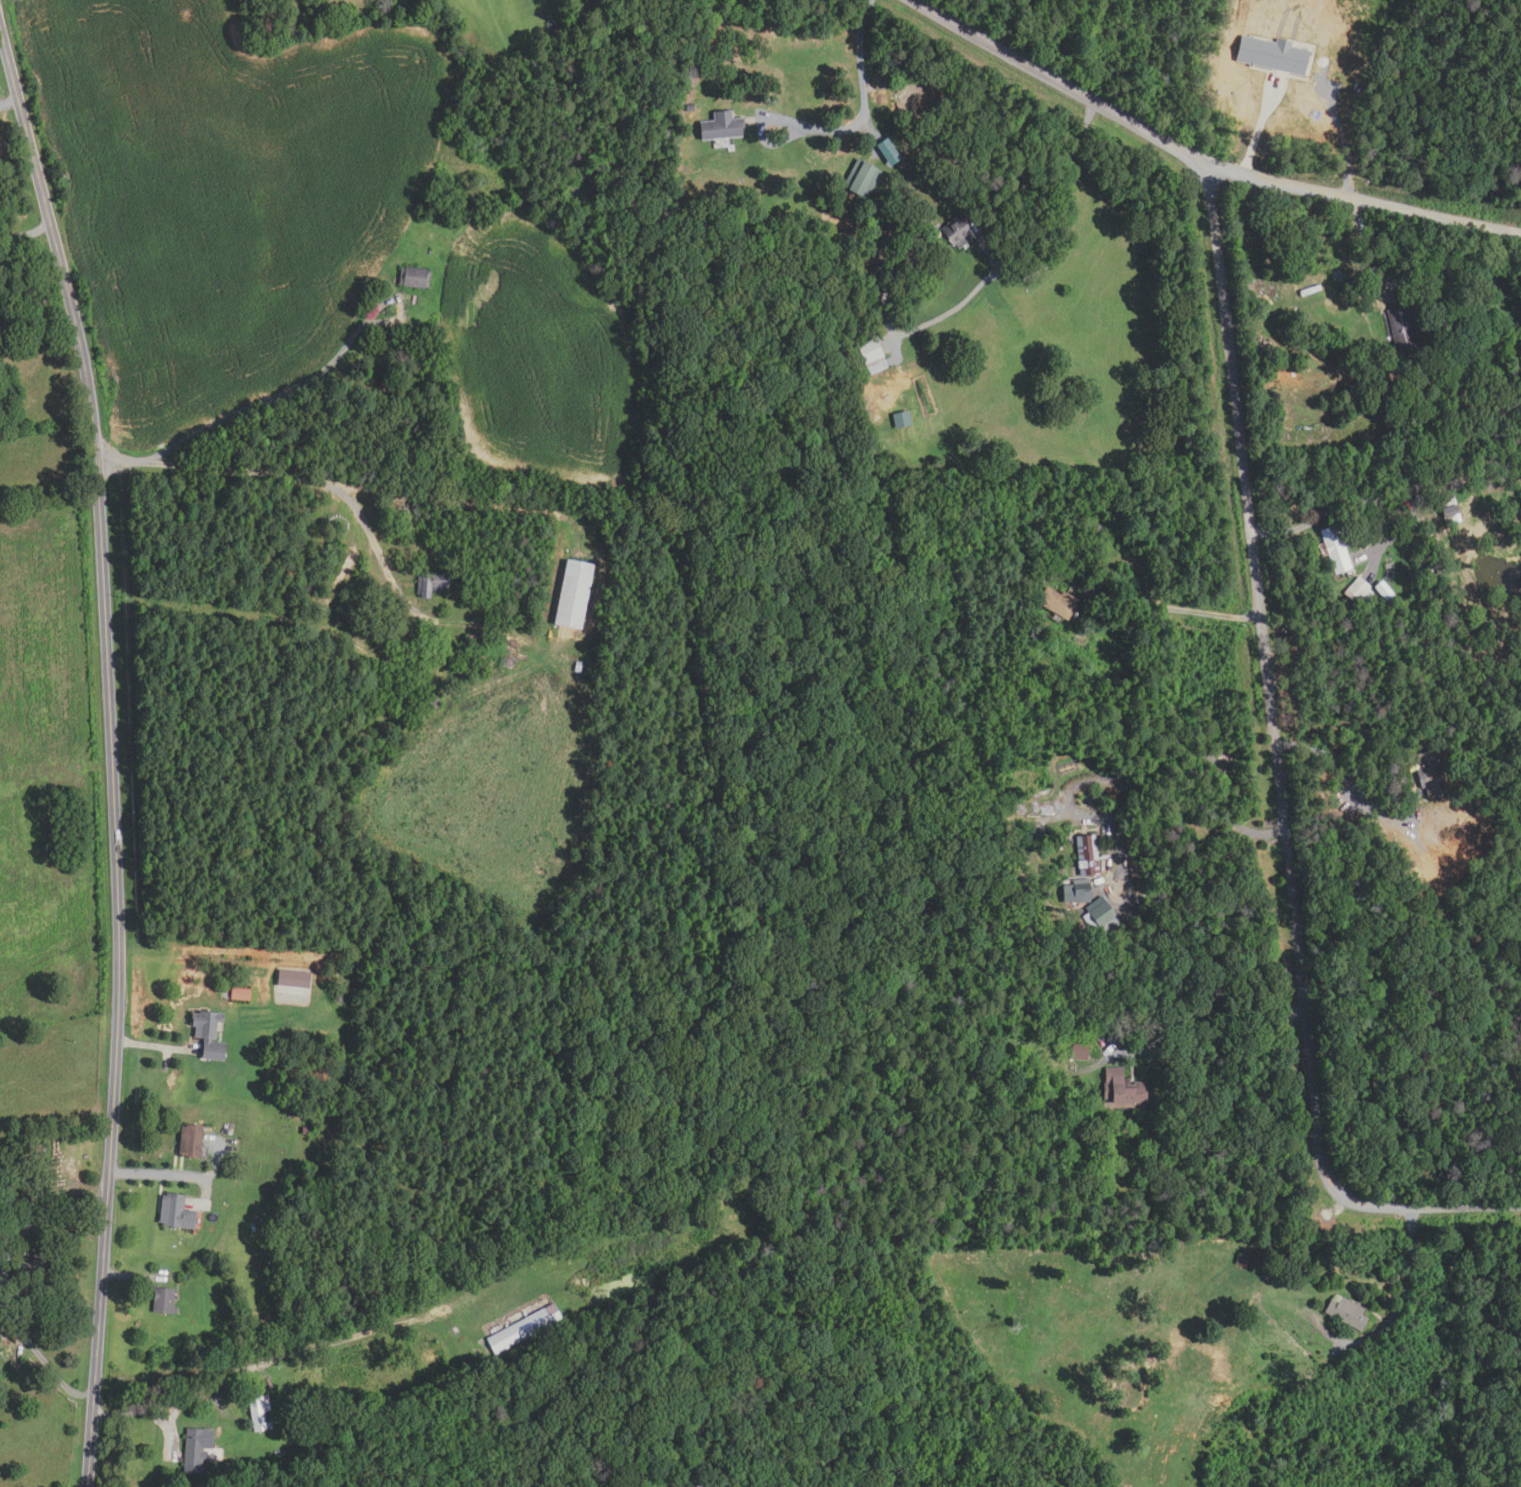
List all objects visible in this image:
building: (602, 3)
building: (575, 4)
building: (1272, 54)
road: (864, 101)
building: (689, 107)
road: (1260, 124)
building: (720, 125)
building: (454, 126)
building: (922, 139)
building: (514, 155)
road: (1203, 156)
building: (860, 179)
river: (601, 184)
building: (513, 193)
road: (1065, 218)
building: (955, 232)
road: (24, 236)
building: (414, 277)
building: (1403, 331)
building: (871, 357)
building: (1347, 366)
building: (1356, 391)
road: (240, 414)
building: (901, 419)
road: (288, 479)
building: (1454, 486)
building: (1421, 496)
road: (1341, 501)
building: (1448, 510)
building: (1335, 548)
building: (1437, 563)
building: (1423, 569)
building: (429, 585)
building: (1384, 591)
building: (1358, 592)
building: (572, 594)
building: (1057, 603)
road: (1180, 603)
building: (470, 642)
building: (429, 701)
building: (574, 707)
road: (110, 758)
road: (1277, 759)
building: (1430, 773)
road: (1342, 781)
road: (1183, 824)
building: (1034, 833)
building: (1087, 855)
building: (1429, 876)
building: (1438, 885)
building: (1076, 892)
building: (1101, 919)
building: (292, 979)
building: (240, 994)
road: (1175, 1020)
building: (207, 1035)
road: (153, 1046)
building: (1079, 1050)
building: (1122, 1089)
building: (189, 1142)
building: (29, 1153)
road: (176, 1175)
building: (174, 1213)
road: (43, 1219)
building: (1282, 1258)
building: (1241, 1260)
road: (1410, 1272)
building: (30, 1275)
road: (122, 1275)
building: (0, 1288)
building: (163, 1301)
building: (1346, 1313)
building: (523, 1329)
road: (165, 1402)
building: (259, 1413)
building: (195, 1450)
building: (703, 1484)

